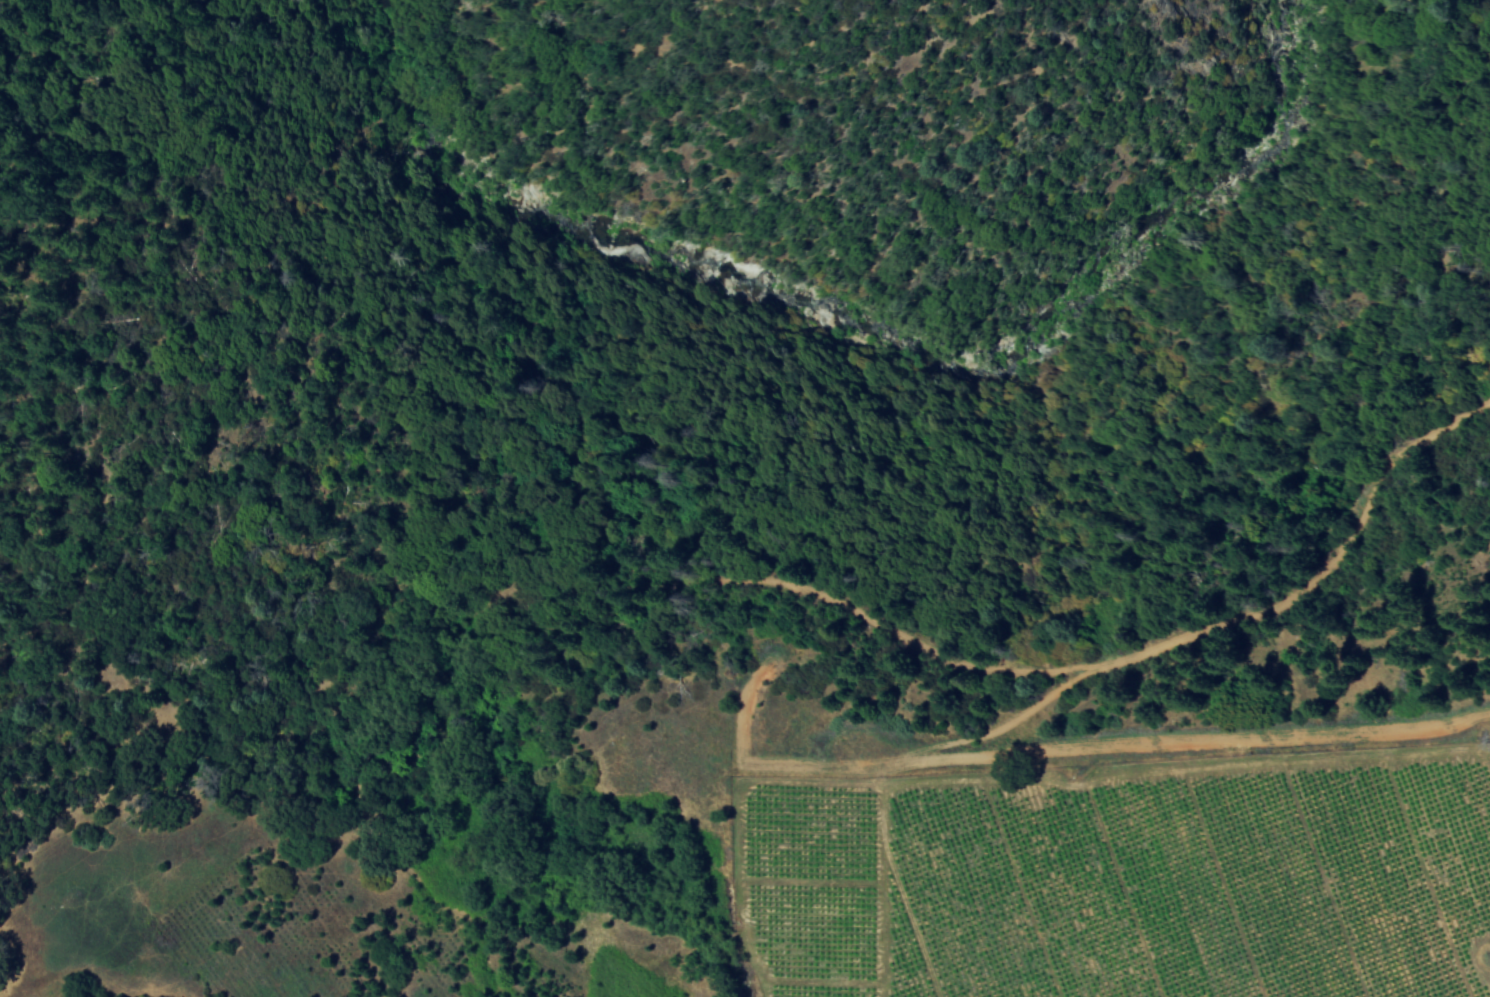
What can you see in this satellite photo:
river: (926, 348)

